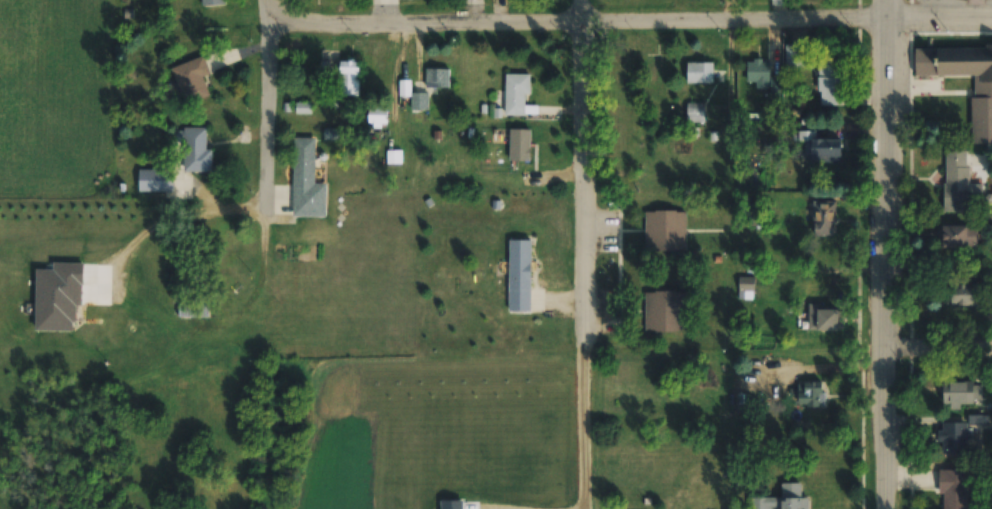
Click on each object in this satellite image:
building: (212, 2)
road: (940, 15)
road: (581, 20)
building: (699, 72)
building: (651, 75)
building: (761, 75)
building: (349, 78)
building: (436, 78)
building: (192, 79)
building: (829, 81)
building: (515, 94)
building: (414, 97)
road: (273, 106)
building: (981, 109)
building: (695, 112)
building: (377, 115)
building: (333, 129)
building: (505, 144)
building: (822, 149)
building: (194, 150)
road: (589, 165)
building: (160, 181)
building: (956, 181)
building: (301, 185)
building: (824, 218)
building: (665, 231)
building: (958, 236)
road: (882, 254)
building: (519, 275)
building: (746, 284)
building: (961, 294)
building: (192, 307)
building: (664, 311)
building: (823, 318)
building: (146, 323)
road: (936, 351)
building: (961, 393)
building: (808, 394)
building: (953, 438)
building: (953, 489)
building: (781, 499)

